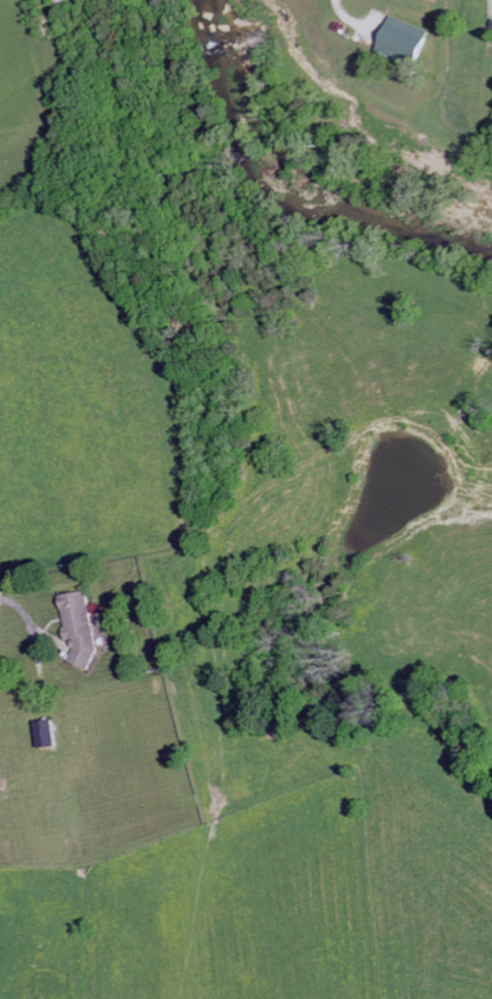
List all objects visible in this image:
road: (343, 14)
building: (403, 42)
building: (80, 627)
building: (47, 732)

